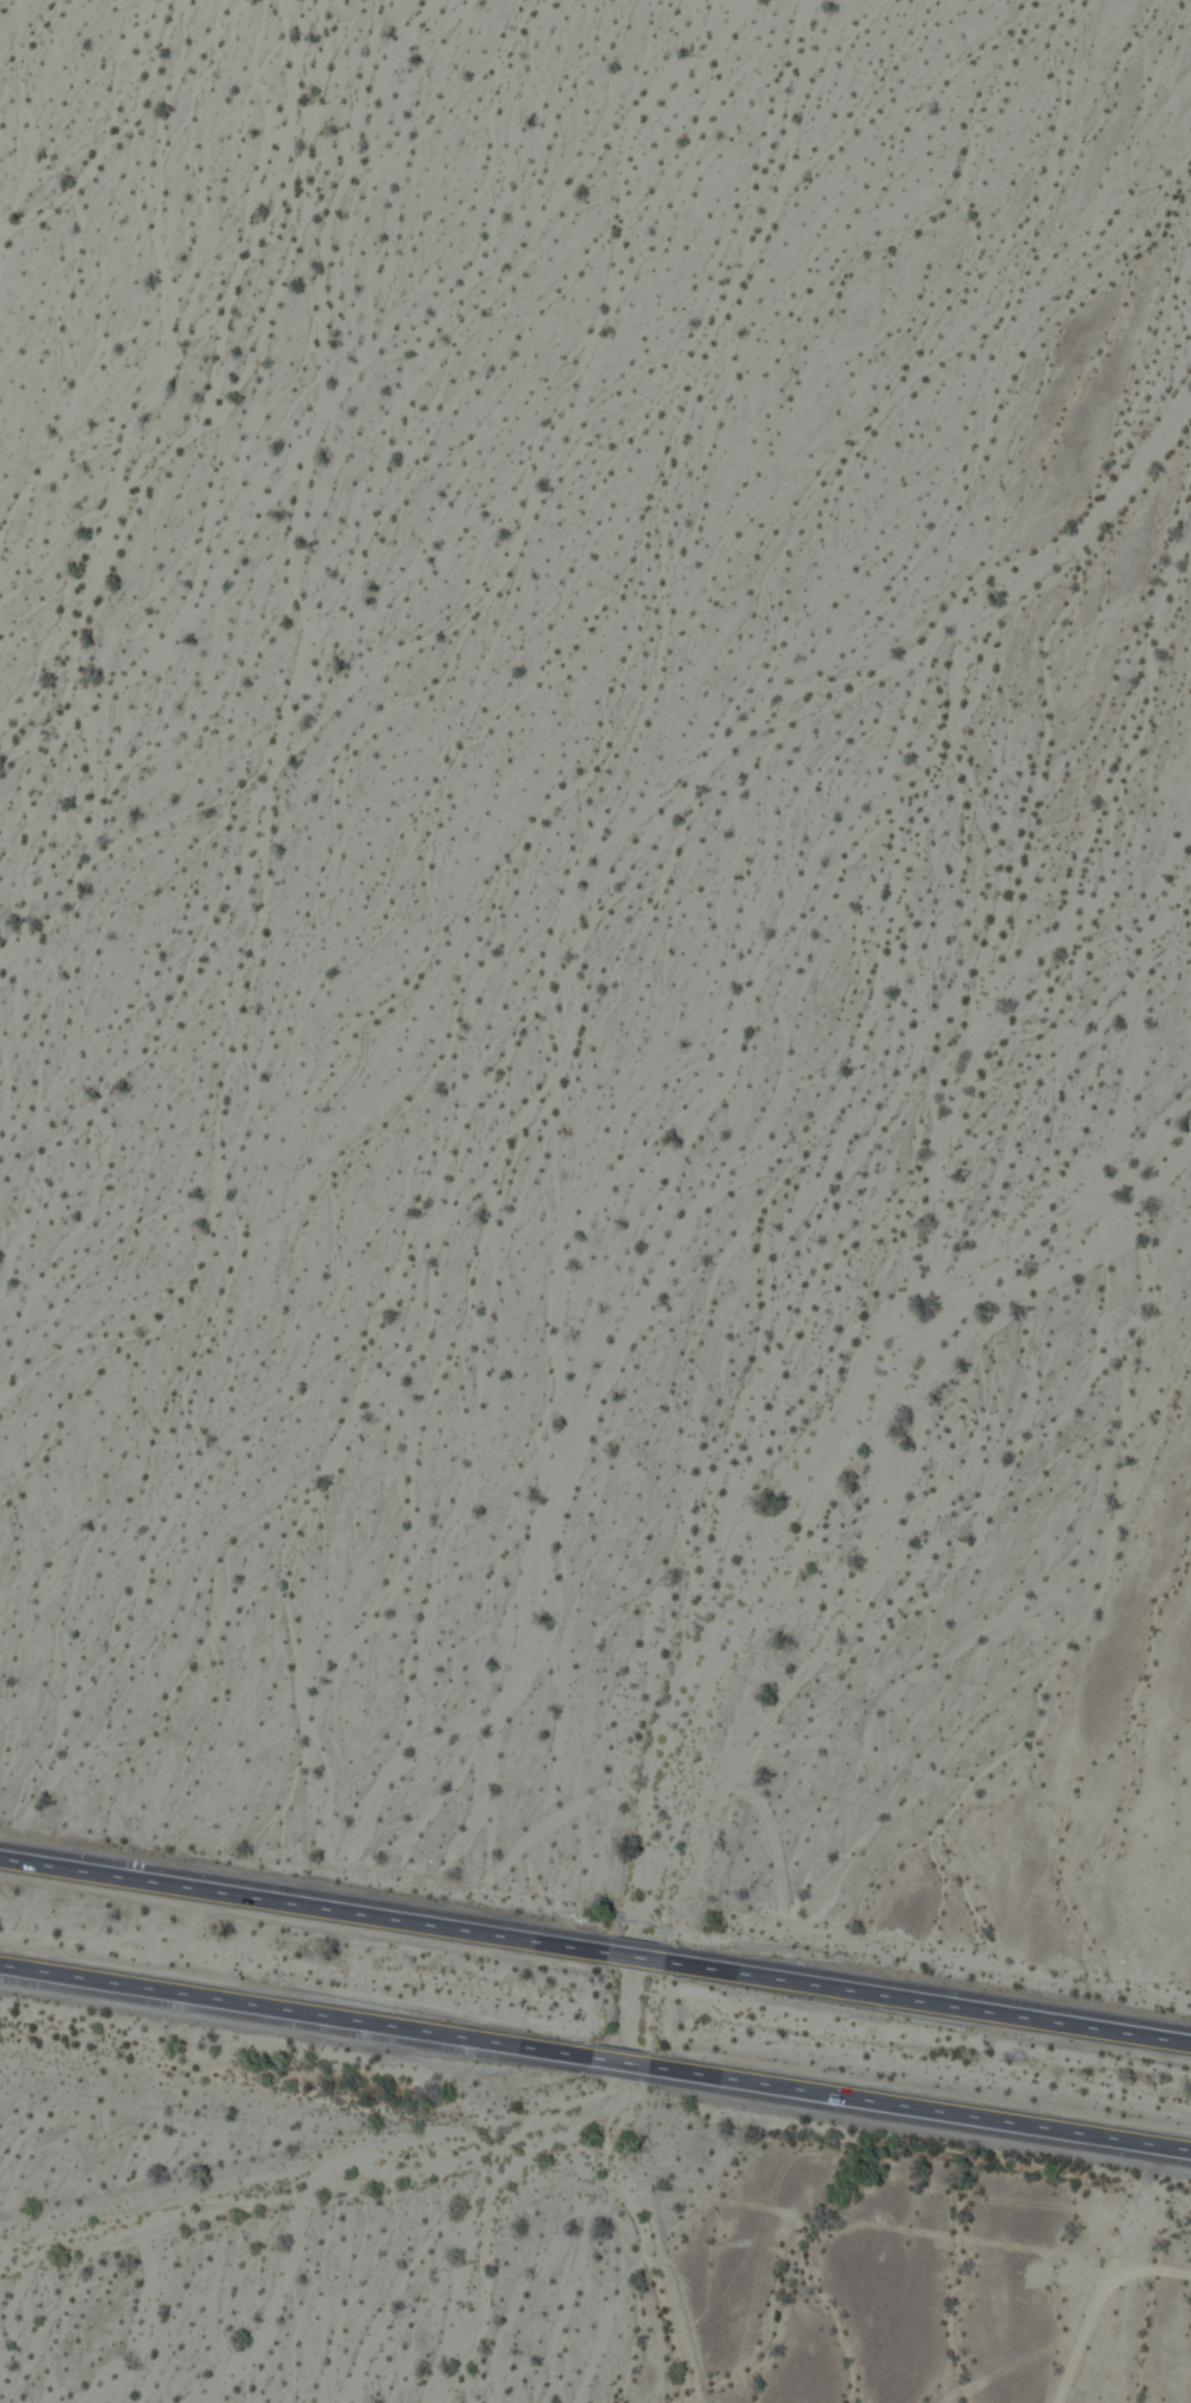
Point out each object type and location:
road: (595, 1944)
road: (595, 2062)

